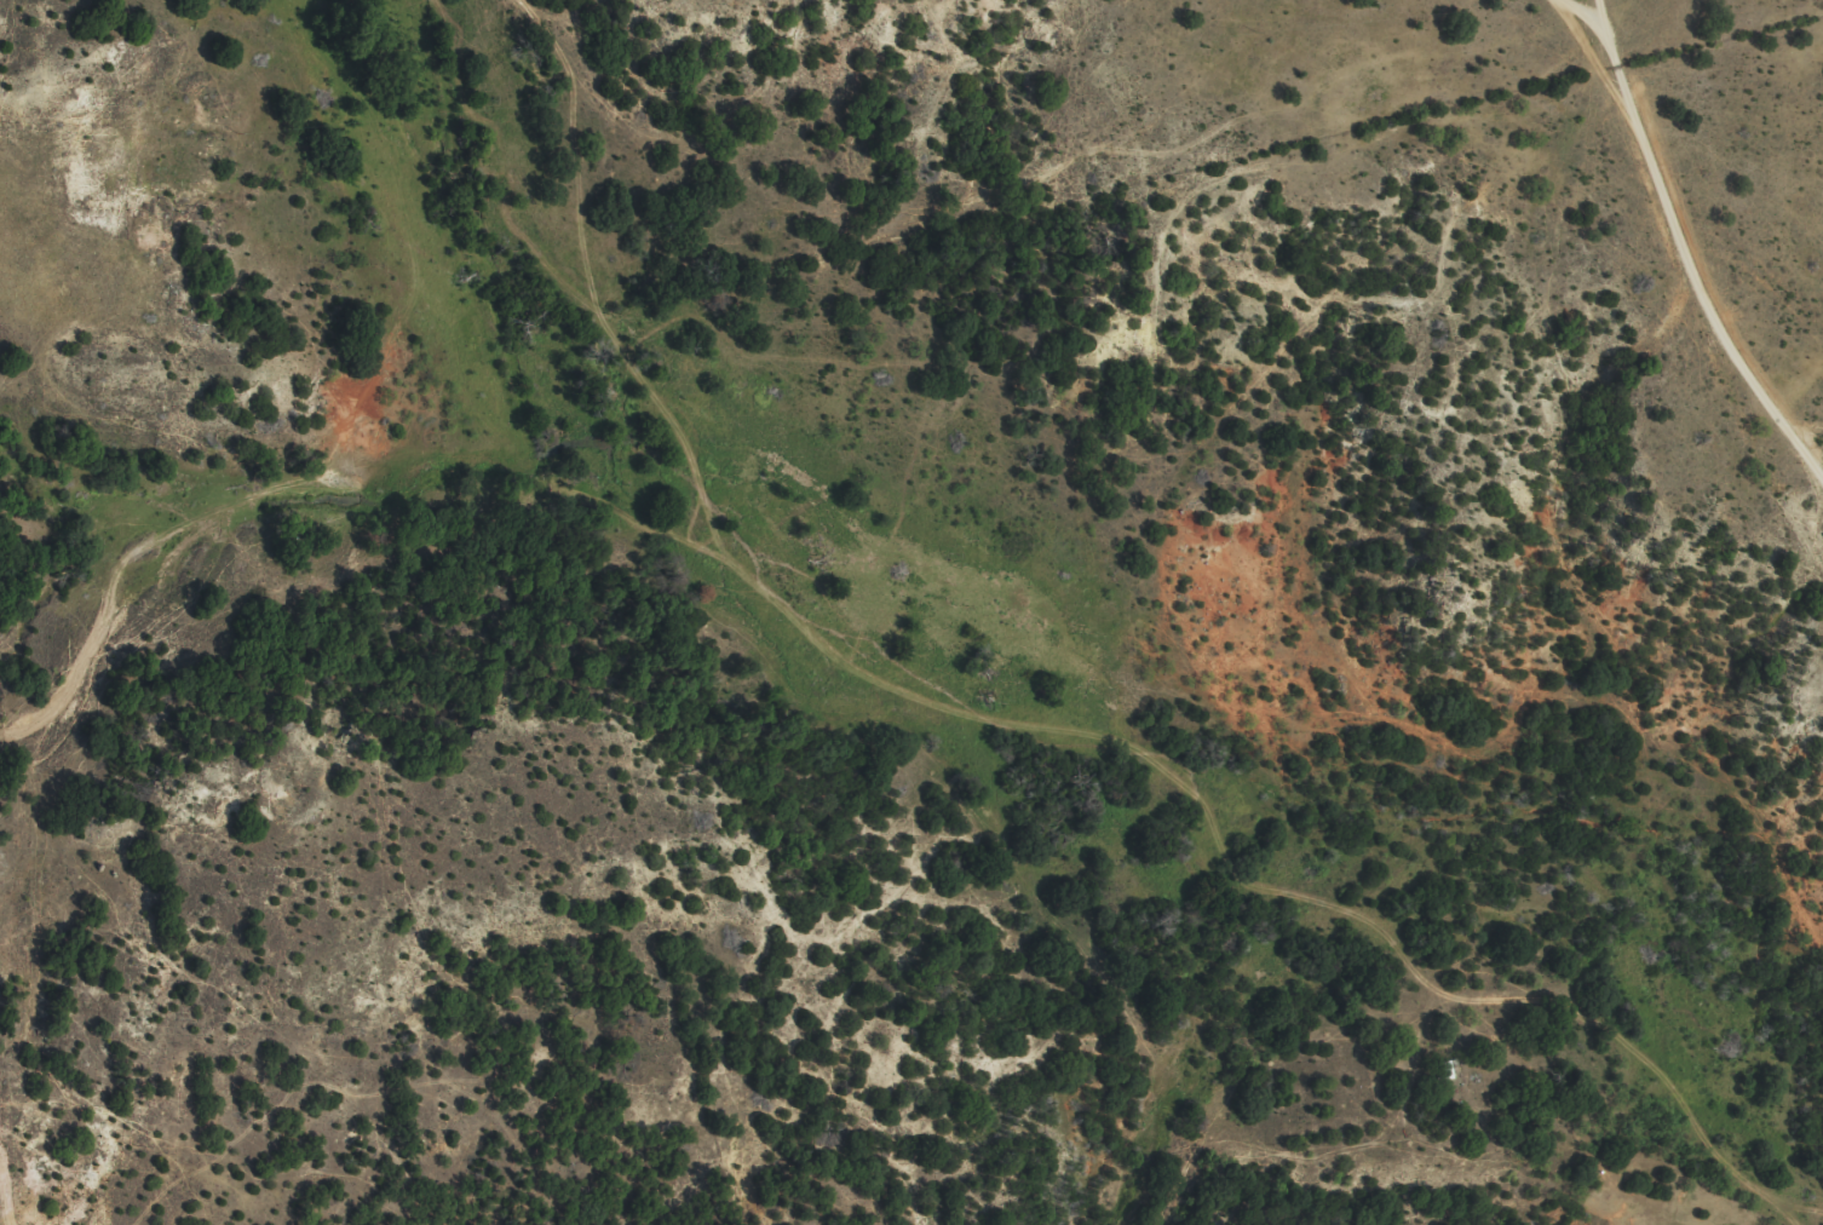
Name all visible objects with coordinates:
road: (1603, 22)
road: (1681, 248)

